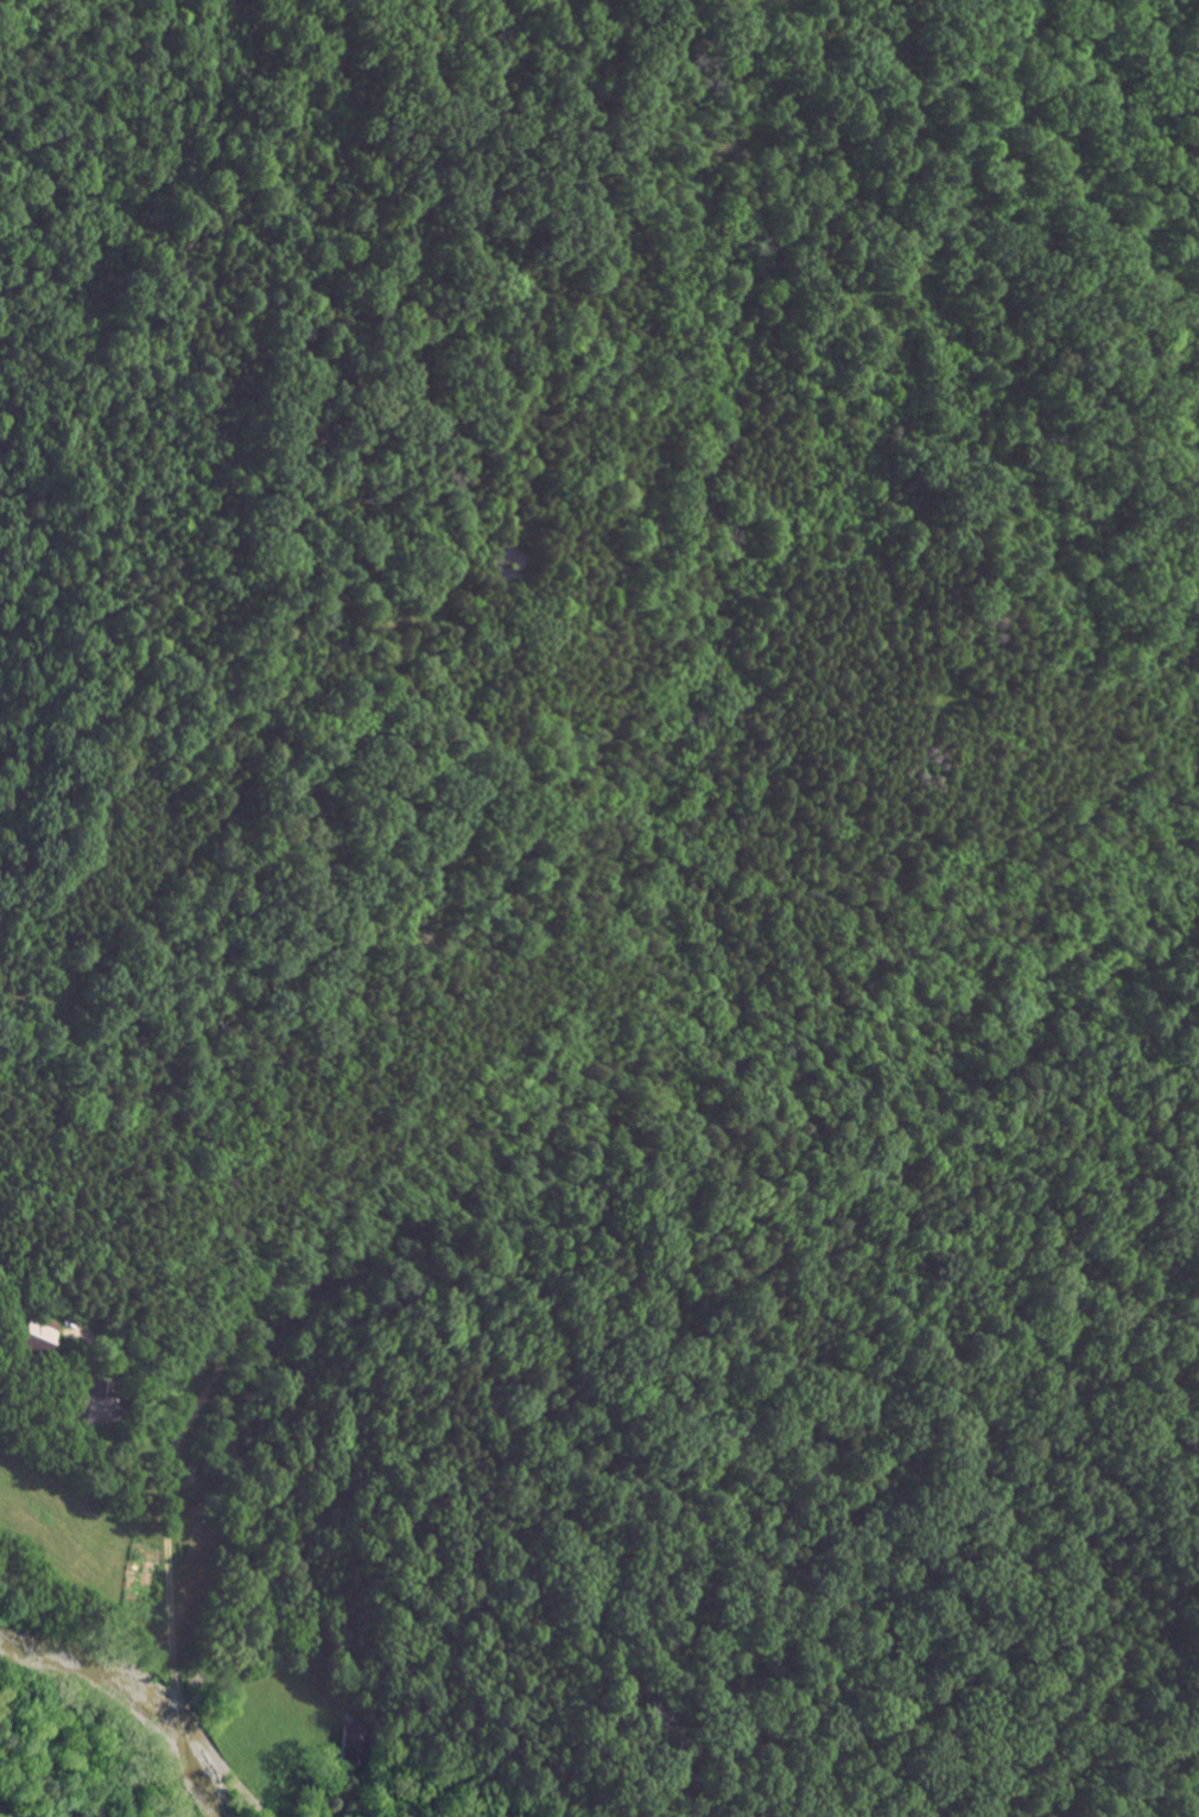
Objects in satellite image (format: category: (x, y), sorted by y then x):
road: (171, 1522)

